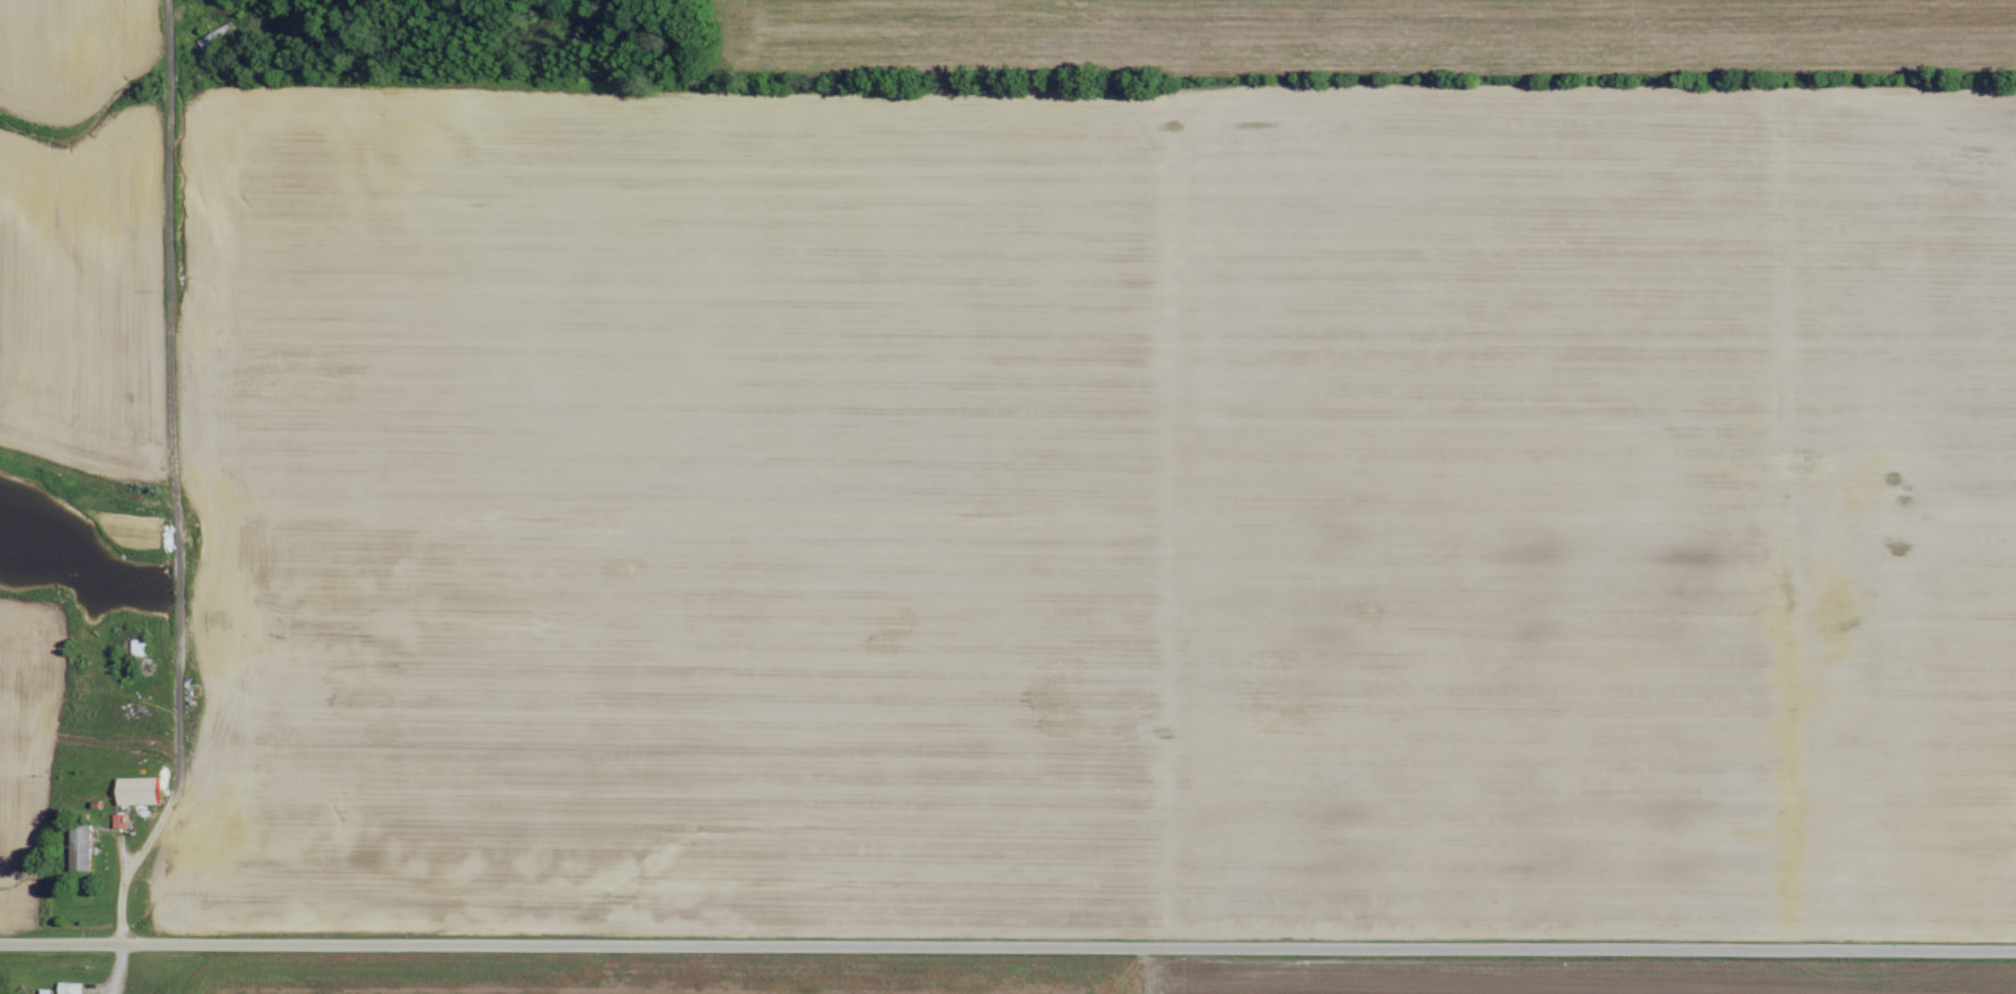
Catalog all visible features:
building: (142, 647)
road: (127, 804)
building: (123, 820)
building: (86, 850)
road: (123, 906)
road: (1008, 945)

